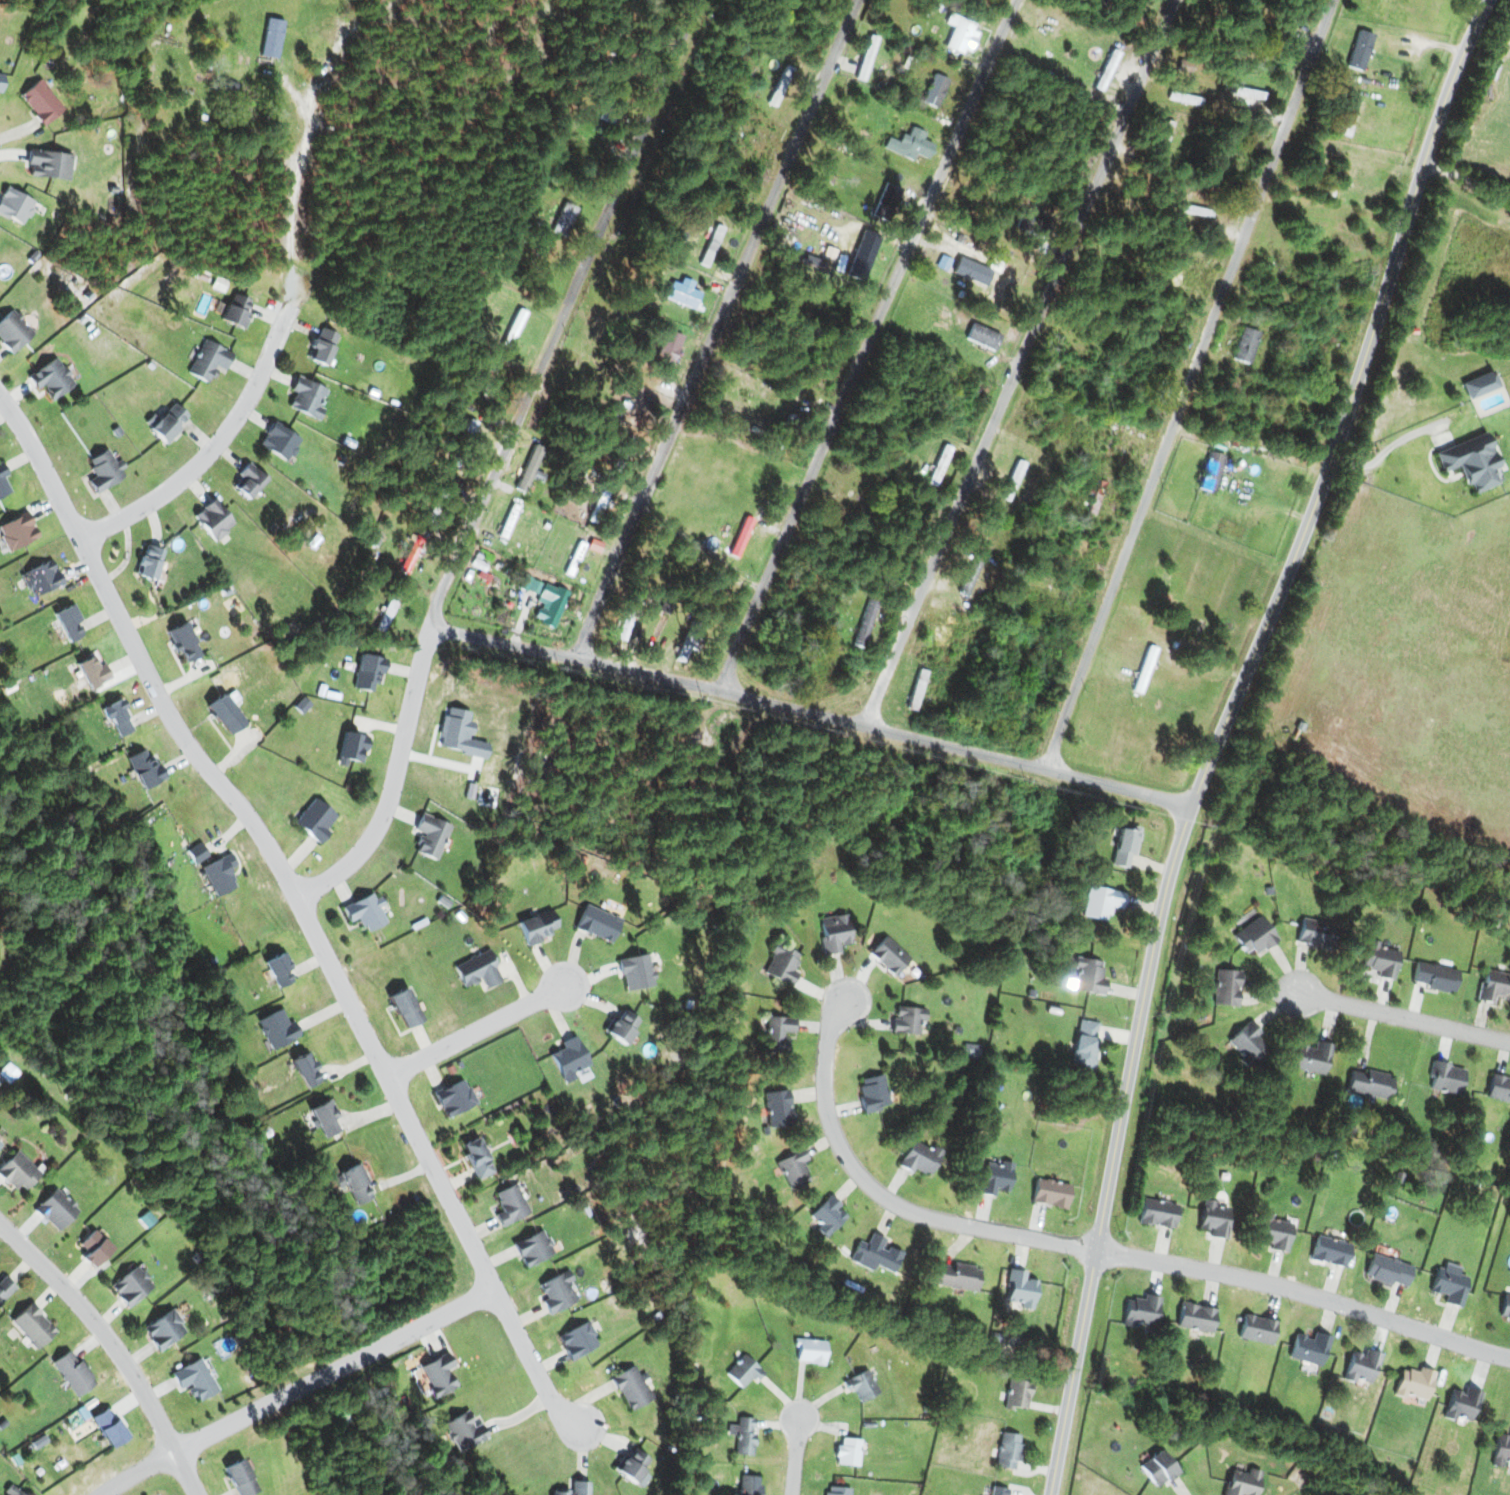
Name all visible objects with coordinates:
building: (1275, 29)
building: (966, 34)
building: (277, 38)
building: (1362, 49)
building: (872, 56)
building: (1112, 69)
building: (787, 81)
building: (940, 90)
building: (1250, 93)
building: (696, 95)
building: (1189, 97)
building: (45, 102)
building: (1351, 118)
building: (1168, 137)
building: (764, 142)
building: (916, 144)
building: (1226, 151)
building: (49, 164)
road: (1468, 176)
building: (1335, 178)
building: (892, 200)
building: (16, 205)
building: (1196, 210)
building: (716, 246)
building: (865, 256)
building: (1171, 273)
building: (1007, 285)
building: (686, 295)
building: (235, 312)
road: (561, 313)
road: (714, 329)
building: (15, 330)
building: (987, 337)
road: (867, 345)
building: (1246, 345)
building: (670, 349)
building: (212, 361)
road: (1018, 363)
road: (265, 364)
building: (1075, 366)
building: (52, 377)
road: (1189, 384)
building: (308, 397)
building: (1219, 406)
building: (167, 421)
building: (467, 440)
building: (281, 441)
building: (1118, 444)
road: (1384, 454)
building: (1473, 463)
building: (106, 469)
building: (248, 481)
building: (5, 483)
building: (1097, 497)
building: (599, 513)
building: (215, 519)
building: (20, 532)
building: (148, 561)
building: (975, 576)
building: (41, 578)
building: (548, 605)
building: (390, 612)
building: (70, 622)
building: (951, 635)
building: (182, 641)
building: (690, 643)
building: (94, 670)
building: (371, 672)
building: (919, 690)
building: (225, 713)
road: (813, 715)
building: (118, 716)
road: (1221, 733)
building: (356, 746)
building: (145, 767)
road: (400, 784)
building: (319, 821)
building: (432, 836)
building: (1122, 847)
building: (197, 853)
building: (221, 874)
building: (1099, 902)
road: (301, 908)
building: (363, 911)
building: (598, 923)
building: (539, 927)
building: (833, 933)
building: (1250, 938)
building: (886, 955)
building: (1384, 959)
building: (779, 964)
building: (279, 968)
building: (480, 972)
building: (637, 972)
building: (1088, 975)
building: (1438, 977)
building: (1496, 986)
building: (1225, 988)
building: (406, 1009)
road: (1402, 1018)
building: (906, 1020)
building: (620, 1026)
building: (279, 1028)
road: (477, 1030)
building: (776, 1034)
building: (1246, 1043)
building: (1084, 1045)
building: (1311, 1058)
building: (569, 1059)
building: (306, 1069)
building: (15, 1073)
building: (1446, 1078)
building: (1369, 1083)
building: (1498, 1088)
building: (872, 1093)
building: (454, 1098)
building: (777, 1108)
building: (326, 1116)
building: (476, 1158)
building: (919, 1158)
building: (791, 1168)
building: (19, 1170)
building: (995, 1178)
building: (353, 1182)
building: (1050, 1193)
road: (882, 1198)
building: (509, 1203)
building: (58, 1209)
building: (1160, 1213)
building: (826, 1215)
building: (1216, 1218)
building: (1277, 1231)
building: (532, 1247)
building: (96, 1250)
building: (1331, 1251)
building: (876, 1253)
building: (1388, 1270)
building: (955, 1275)
building: (1448, 1285)
building: (134, 1286)
building: (6, 1288)
building: (1022, 1289)
building: (559, 1291)
road: (1305, 1293)
building: (1504, 1309)
building: (1141, 1311)
building: (1194, 1317)
building: (32, 1324)
building: (1254, 1328)
building: (166, 1329)
building: (578, 1340)
road: (114, 1348)
building: (1306, 1348)
building: (809, 1350)
building: (1358, 1366)
building: (73, 1371)
building: (742, 1371)
building: (442, 1375)
building: (192, 1376)
building: (1412, 1382)
building: (862, 1384)
building: (633, 1386)
road: (296, 1390)
building: (1016, 1394)
building: (1461, 1403)
building: (105, 1426)
building: (463, 1430)
building: (743, 1435)
building: (1500, 1448)
building: (845, 1451)
building: (1008, 1451)
road: (795, 1455)
building: (629, 1465)
building: (1159, 1467)
building: (239, 1478)
building: (1242, 1482)
building: (749, 1485)
building: (575, 1489)
building: (12, 1491)
building: (998, 1491)

